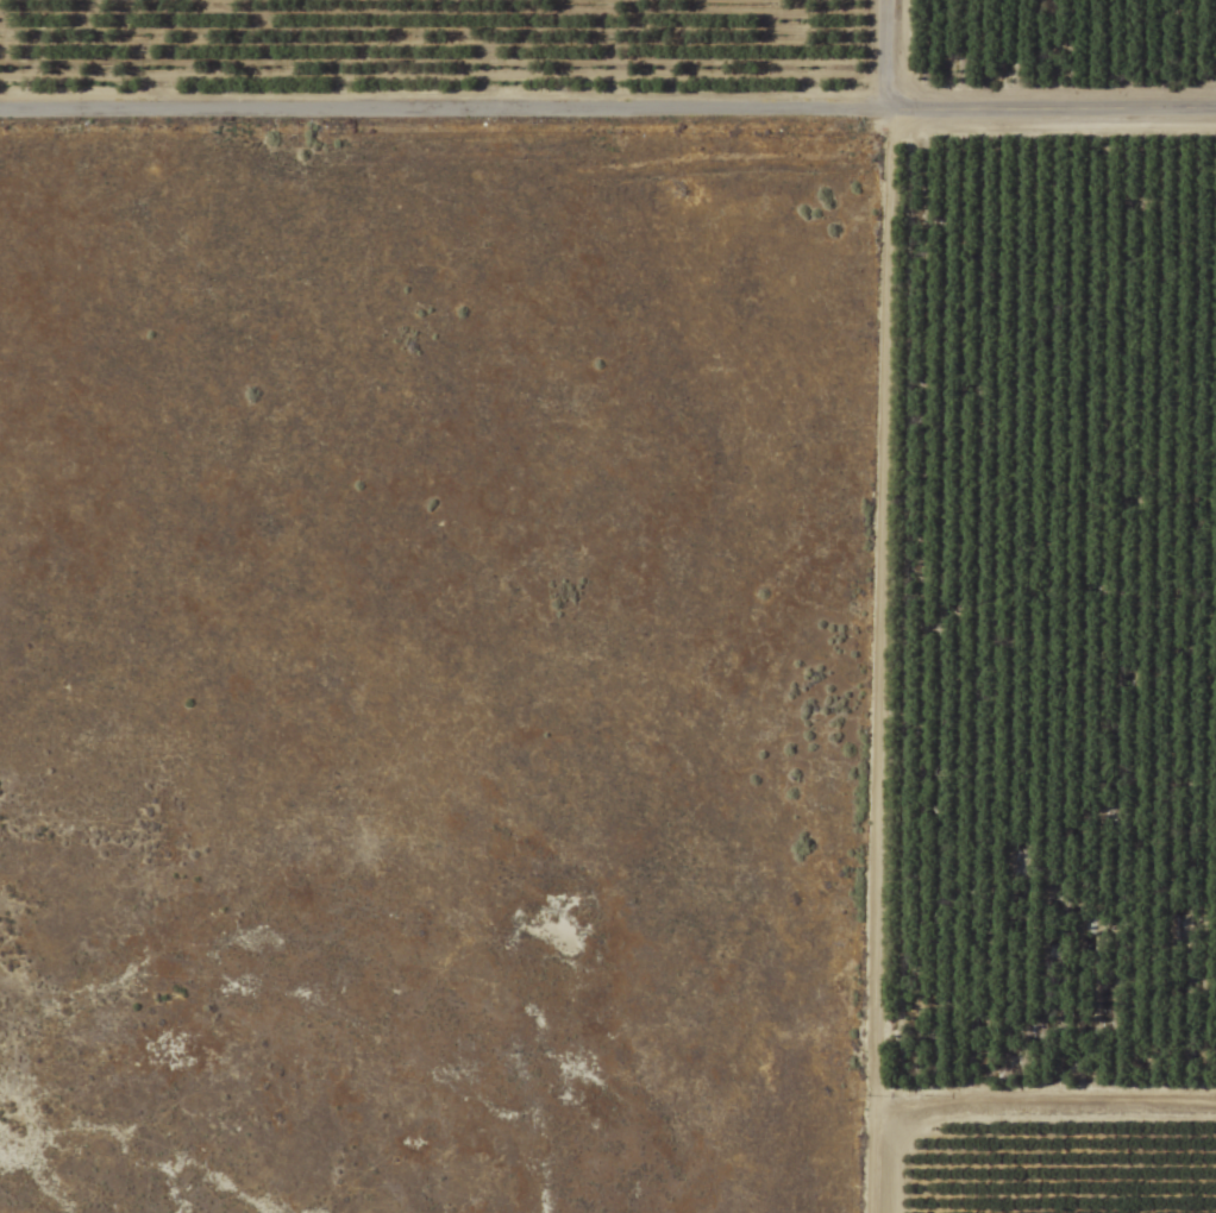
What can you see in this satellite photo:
road: (885, 56)
road: (607, 113)
crop: (608, 606)
road: (847, 662)

